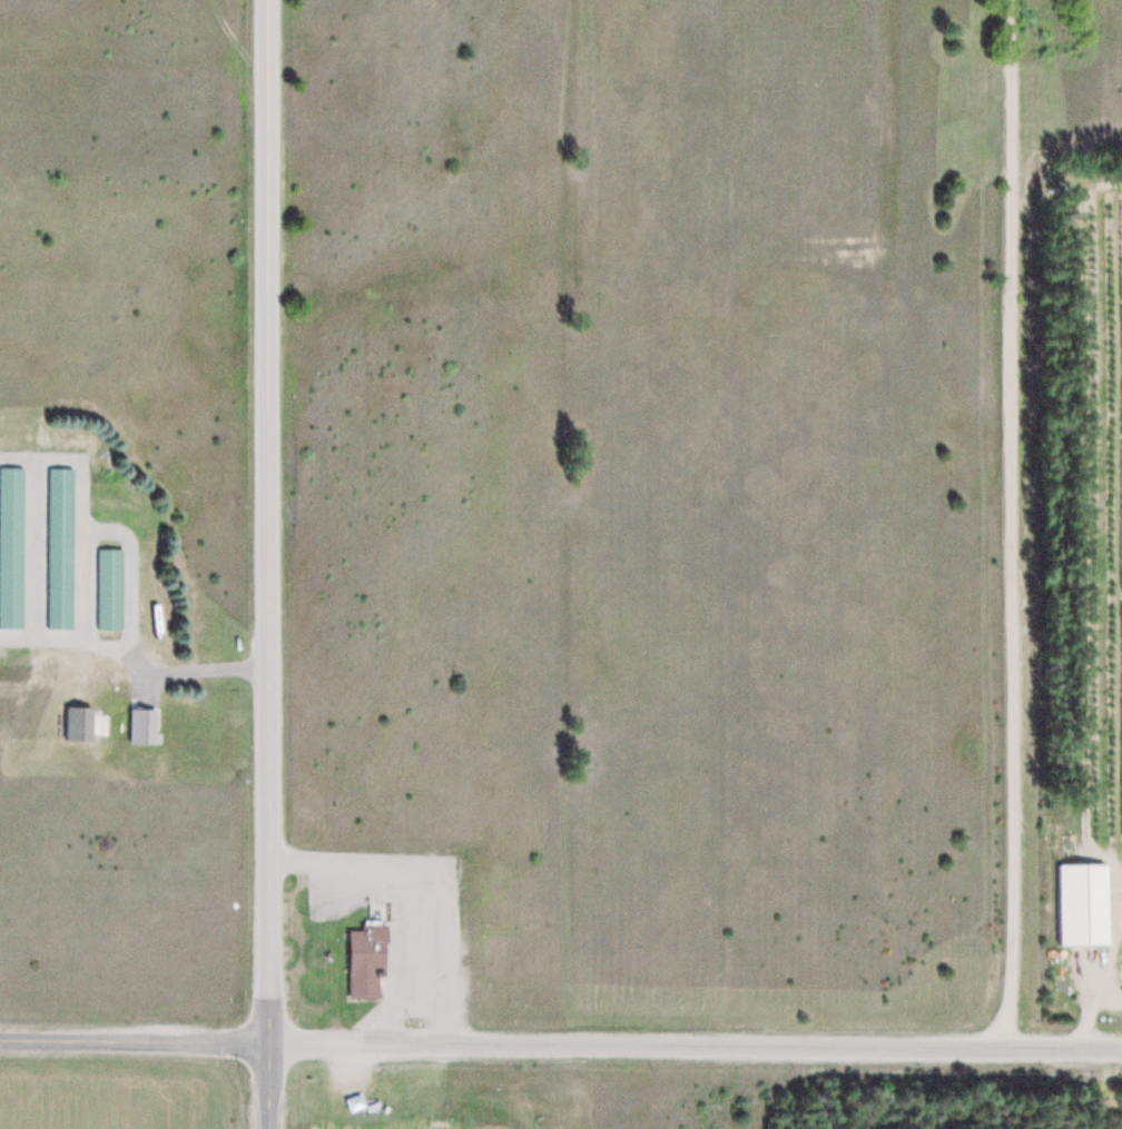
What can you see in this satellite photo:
road: (239, 42)
road: (1064, 140)
road: (81, 525)
road: (1010, 525)
building: (10, 541)
road: (31, 544)
building: (58, 545)
road: (267, 564)
road: (80, 582)
building: (107, 584)
road: (62, 635)
road: (184, 667)
building: (139, 721)
road: (406, 898)
parking lot: (400, 920)
building: (368, 958)
road: (561, 1043)

